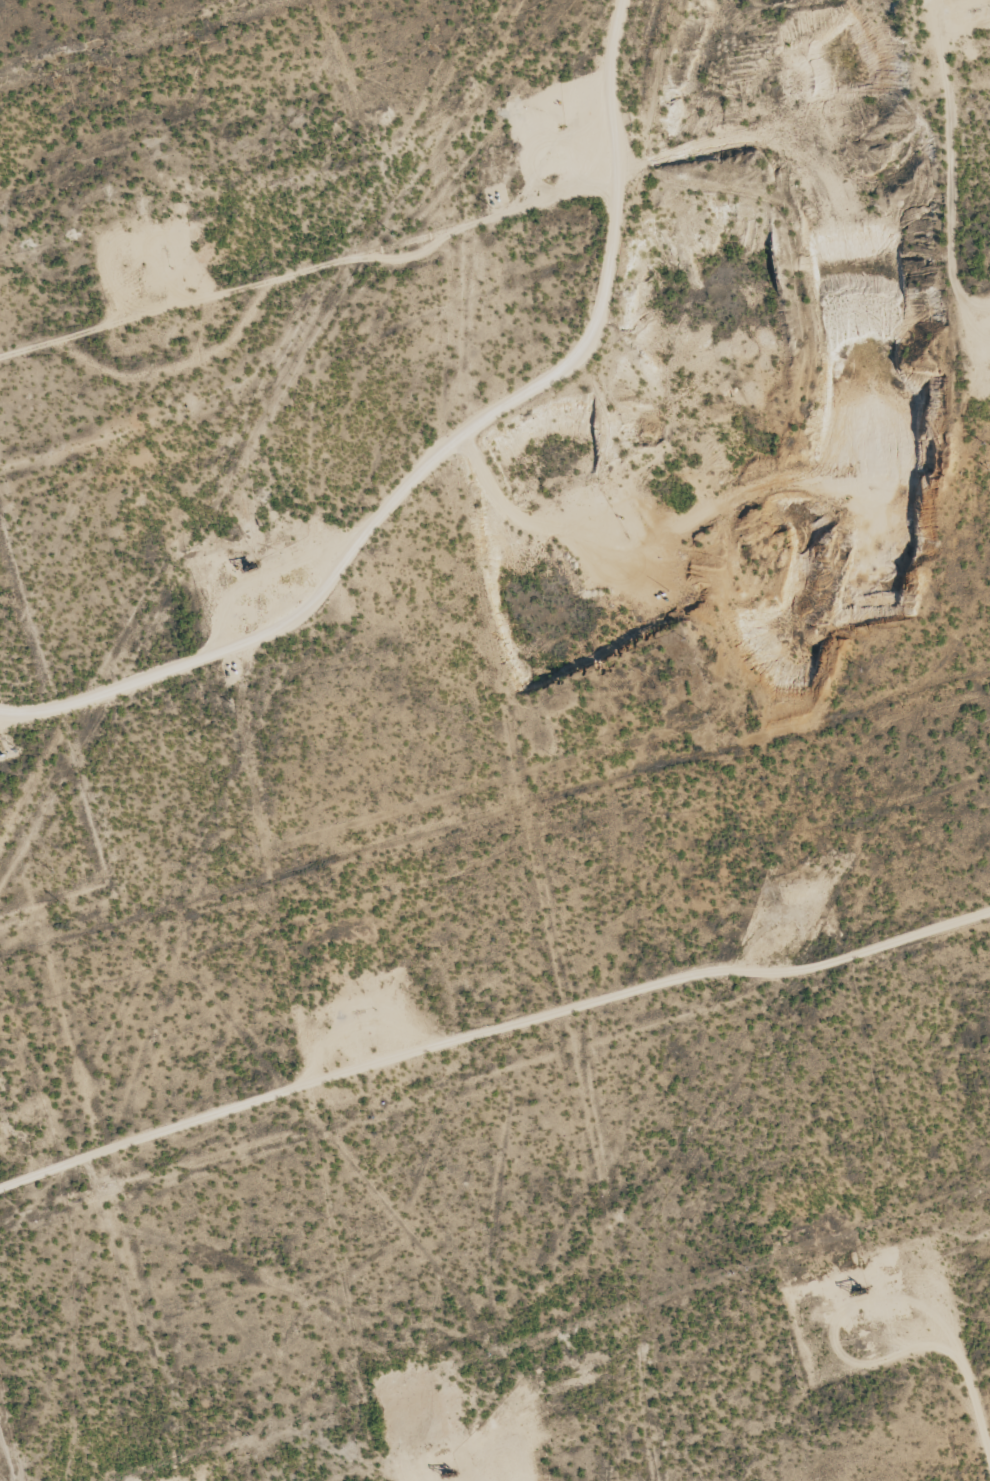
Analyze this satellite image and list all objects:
road: (388, 243)
road: (496, 1031)

